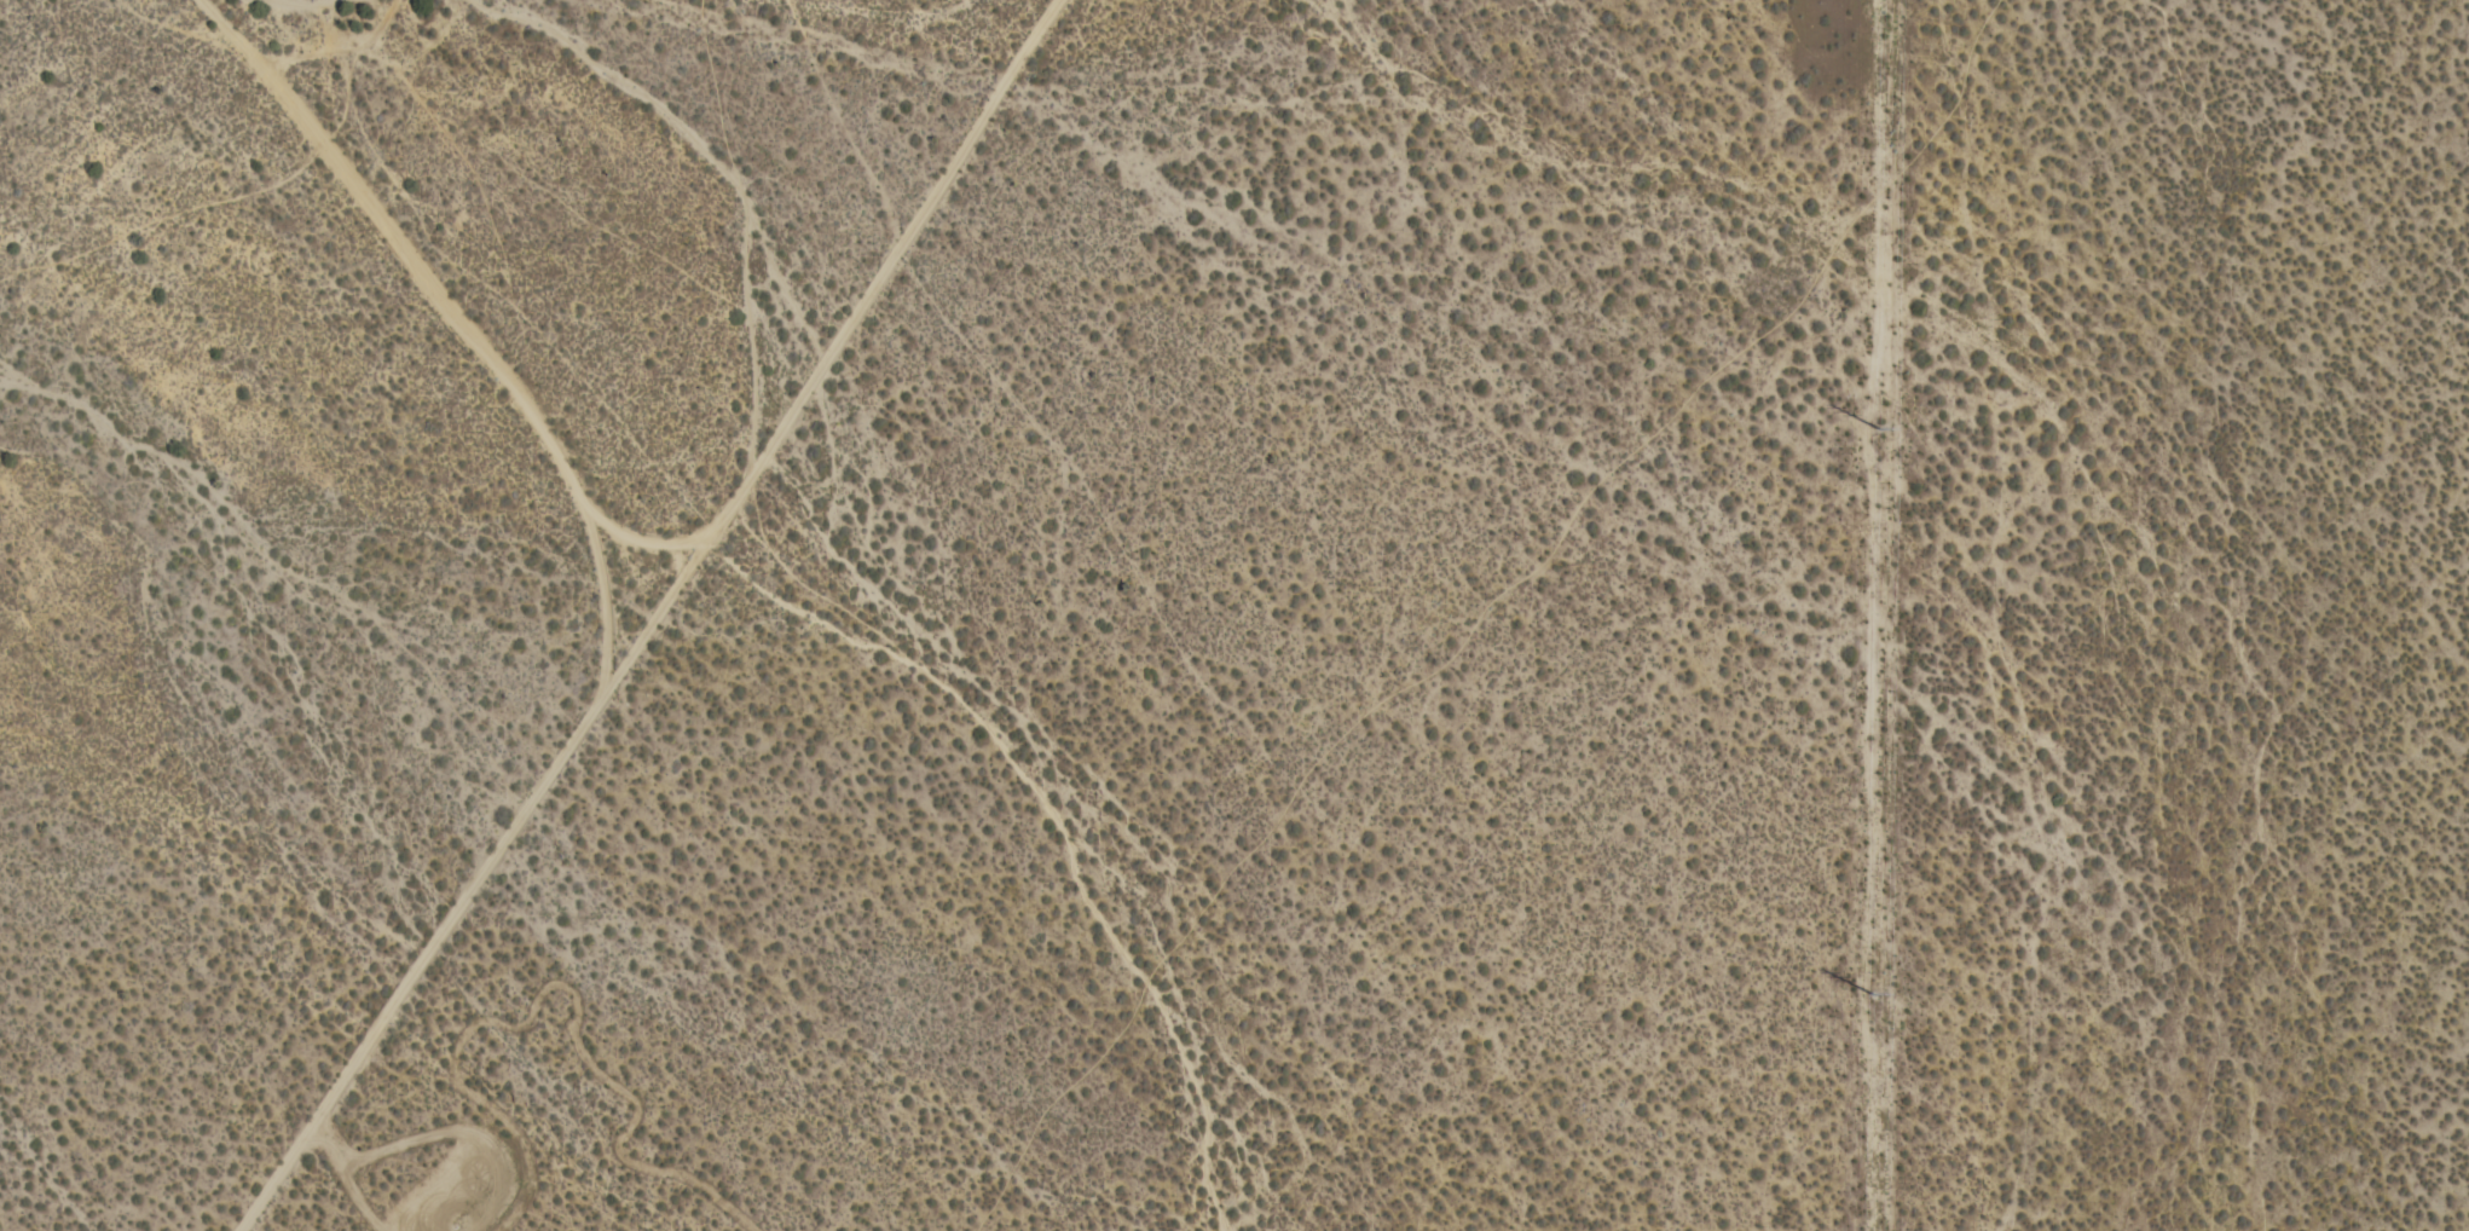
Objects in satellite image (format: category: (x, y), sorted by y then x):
road: (877, 277)
road: (463, 325)
power tower: (1879, 426)
road: (638, 549)
road: (647, 626)
road: (1056, 819)
road: (421, 965)
power tower: (1875, 988)

